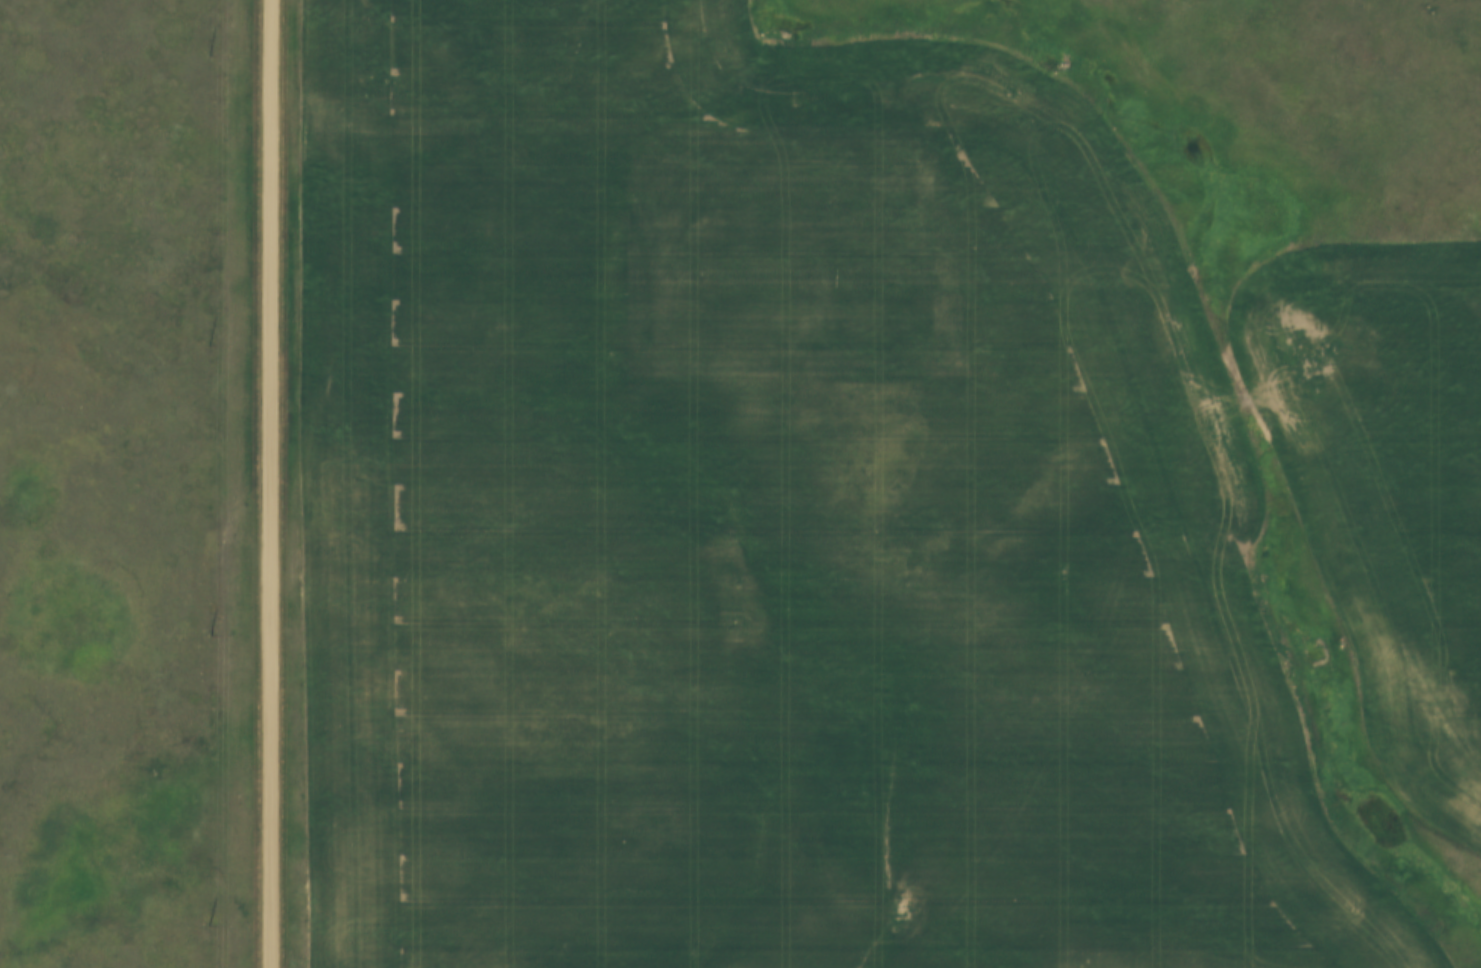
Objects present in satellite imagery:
road: (272, 484)

